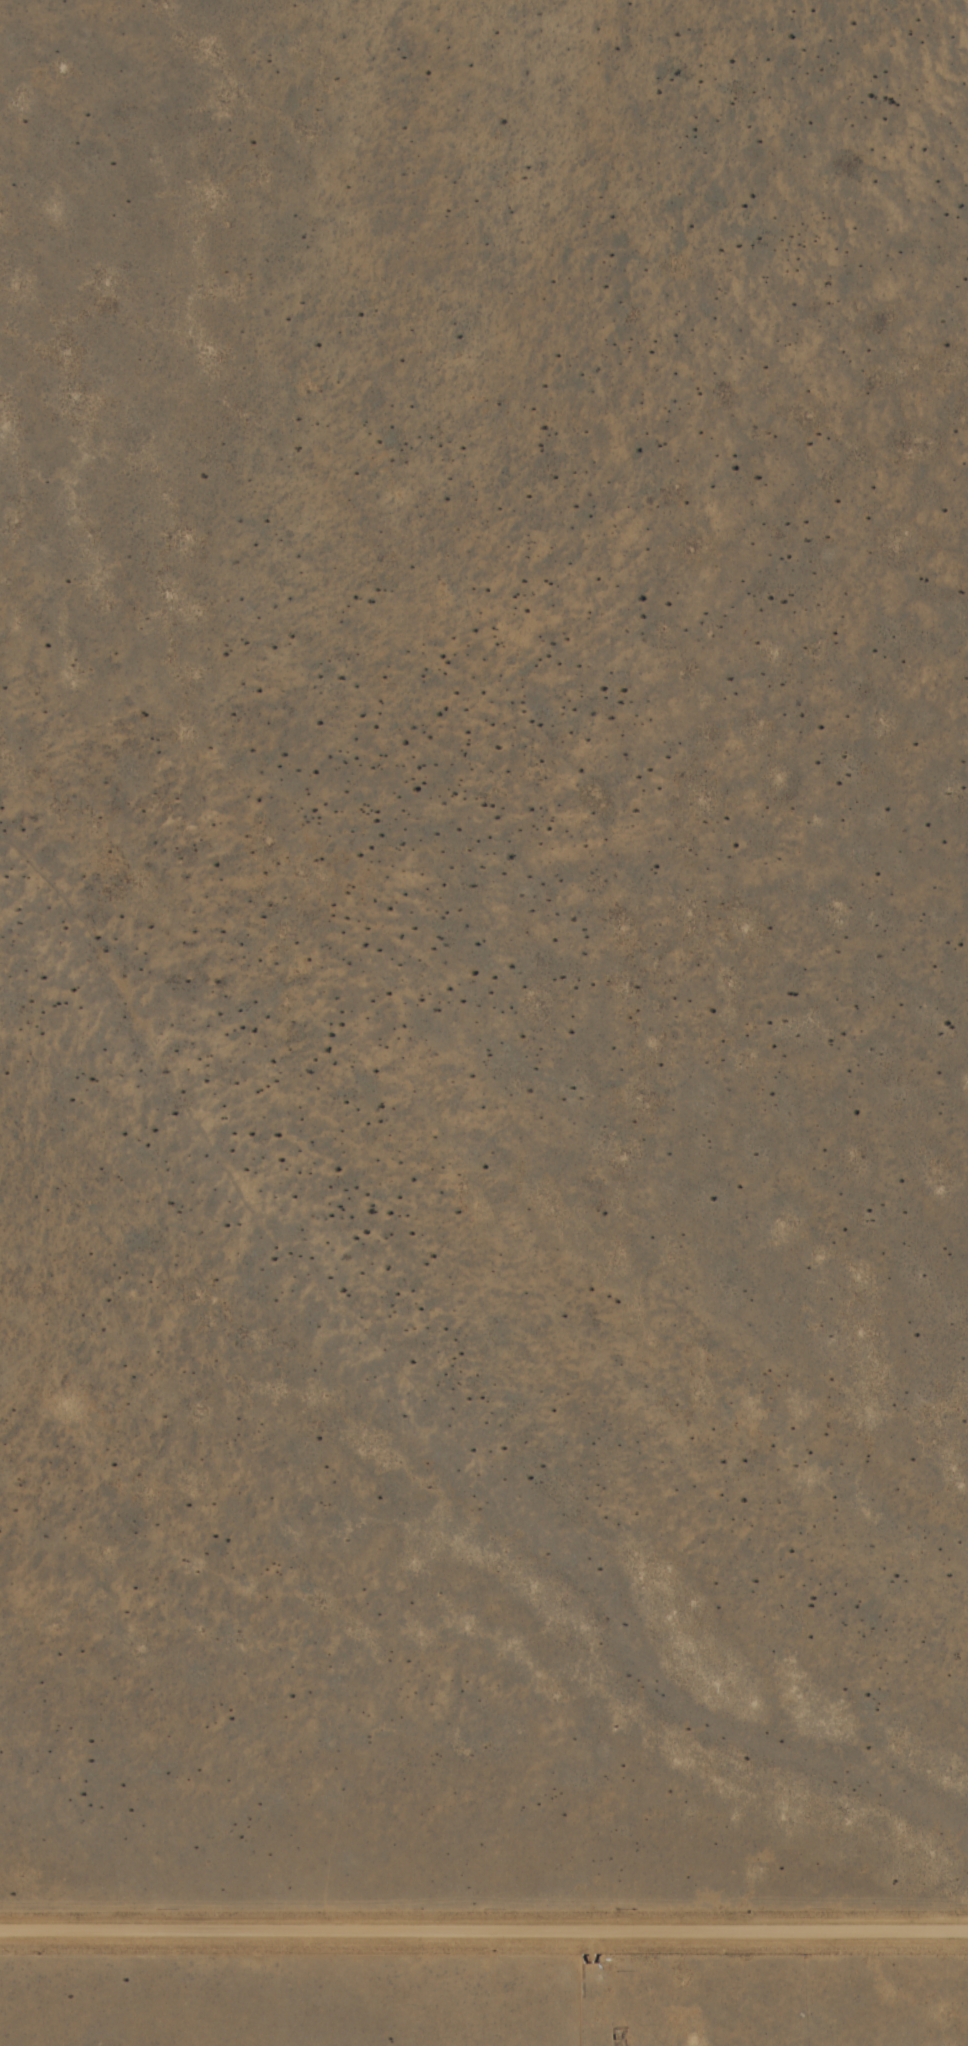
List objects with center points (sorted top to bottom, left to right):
road: (484, 1942)

